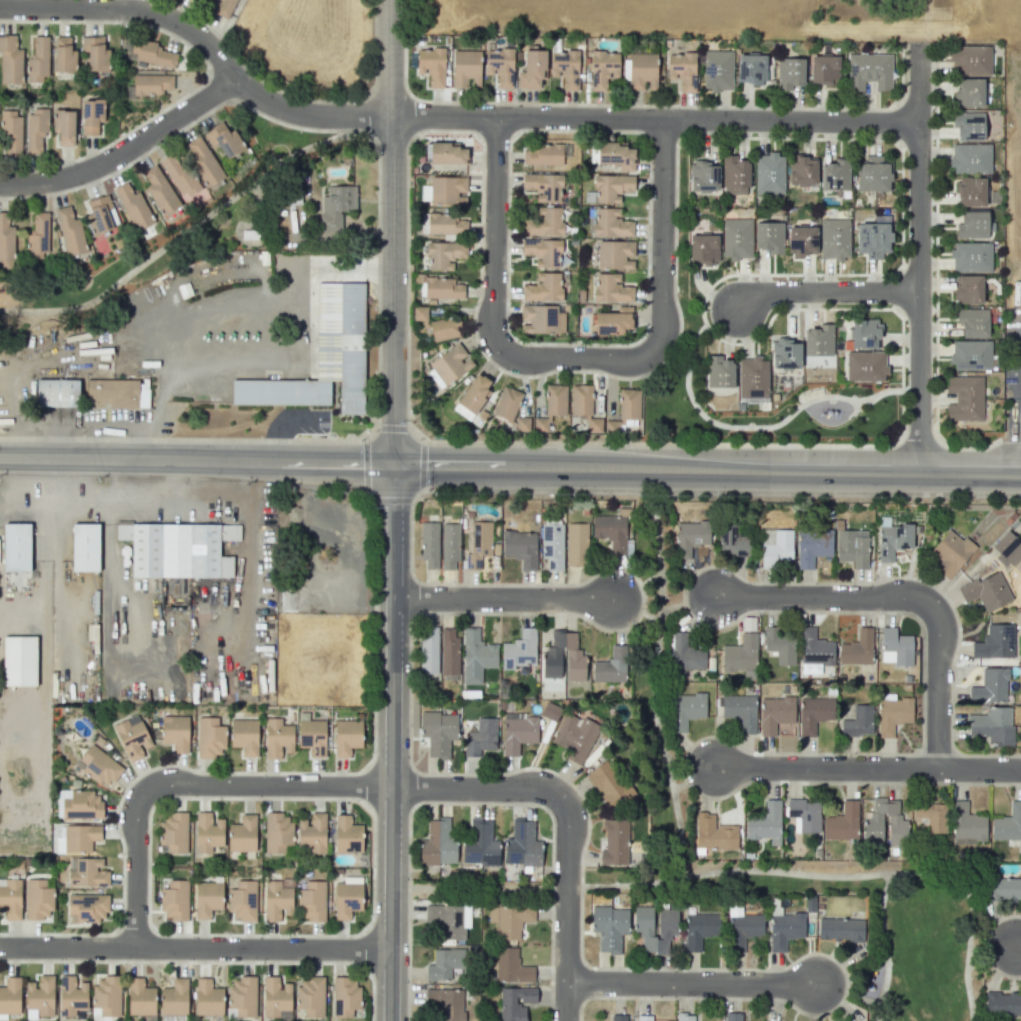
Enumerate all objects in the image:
building: (224, 8)
park: (308, 44)
building: (151, 53)
building: (95, 54)
building: (63, 55)
building: (10, 60)
building: (38, 60)
building: (969, 60)
building: (431, 66)
building: (500, 66)
building: (466, 68)
building: (532, 68)
building: (565, 68)
building: (603, 69)
building: (751, 69)
building: (682, 70)
building: (824, 70)
building: (642, 71)
building: (717, 71)
building: (868, 71)
building: (790, 73)
building: (151, 84)
building: (968, 93)
street lamp: (937, 110)
road: (314, 113)
building: (91, 116)
road: (791, 121)
building: (968, 126)
building: (63, 127)
building: (35, 129)
building: (11, 133)
building: (224, 140)
road: (123, 146)
building: (447, 153)
building: (543, 154)
building: (616, 155)
building: (970, 159)
building: (204, 162)
crop: (1012, 164)
building: (802, 171)
building: (768, 173)
building: (874, 174)
building: (177, 175)
building: (735, 175)
building: (835, 175)
building: (703, 176)
building: (543, 186)
building: (611, 188)
building: (160, 191)
building: (444, 191)
building: (971, 191)
building: (335, 206)
building: (133, 207)
building: (100, 214)
building: (544, 222)
park: (681, 222)
building: (610, 223)
building: (443, 224)
building: (972, 225)
building: (69, 231)
road: (494, 231)
road: (184, 232)
road: (391, 232)
park: (171, 235)
road: (661, 235)
building: (37, 236)
building: (770, 237)
building: (736, 239)
building: (834, 239)
building: (873, 239)
building: (802, 240)
building: (6, 241)
building: (703, 248)
building: (542, 252)
building: (614, 254)
building: (444, 255)
building: (971, 257)
road: (918, 259)
street lamp: (932, 274)
building: (442, 288)
building: (543, 288)
building: (610, 289)
building: (968, 289)
road: (823, 291)
road: (219, 307)
building: (419, 313)
building: (541, 319)
building: (613, 321)
building: (973, 322)
building: (444, 327)
building: (864, 333)
building: (819, 340)
building: (342, 342)
building: (785, 354)
building: (971, 355)
road: (574, 356)
building: (450, 364)
building: (865, 366)
building: (719, 372)
building: (752, 378)
building: (57, 393)
building: (112, 394)
building: (281, 394)
building: (474, 394)
building: (965, 398)
building: (555, 400)
building: (581, 400)
building: (507, 403)
building: (628, 404)
road: (1020, 413)
street lamp: (932, 420)
building: (522, 424)
building: (540, 424)
building: (593, 425)
road: (749, 427)
road: (1017, 440)
road: (197, 459)
traffic signals: (394, 464)
road: (707, 469)
road: (84, 502)
building: (611, 530)
building: (690, 538)
building: (893, 540)
building: (731, 541)
building: (429, 544)
building: (478, 544)
building: (552, 545)
building: (576, 545)
building: (449, 546)
building: (776, 546)
building: (812, 547)
building: (852, 547)
building: (1007, 547)
building: (15, 548)
building: (85, 548)
building: (520, 548)
building: (182, 550)
building: (951, 553)
street lamp: (412, 566)
building: (987, 591)
road: (905, 596)
road: (502, 598)
road: (688, 602)
road: (636, 608)
street lamp: (759, 614)
street lamp: (876, 615)
building: (995, 642)
building: (780, 645)
building: (896, 647)
building: (815, 648)
building: (857, 648)
building: (428, 650)
building: (519, 650)
building: (448, 651)
building: (685, 653)
building: (476, 656)
building: (741, 656)
building: (19, 662)
building: (575, 663)
street lamp: (954, 663)
building: (611, 666)
building: (990, 686)
road: (655, 689)
building: (685, 710)
building: (740, 711)
building: (892, 713)
building: (775, 714)
building: (814, 714)
building: (858, 721)
building: (992, 725)
building: (175, 732)
building: (518, 732)
building: (439, 733)
building: (244, 736)
building: (346, 736)
building: (574, 736)
building: (312, 737)
building: (480, 737)
building: (133, 738)
building: (210, 738)
building: (277, 738)
road: (392, 742)
park: (661, 762)
building: (99, 766)
road: (691, 769)
road: (824, 769)
road: (979, 769)
road: (188, 785)
building: (608, 785)
road: (476, 788)
street lamp: (352, 800)
building: (81, 804)
street lamp: (414, 808)
building: (804, 814)
building: (932, 816)
building: (842, 822)
building: (966, 822)
building: (765, 823)
building: (1007, 824)
building: (873, 830)
building: (173, 832)
building: (207, 832)
building: (277, 832)
building: (312, 833)
building: (714, 833)
building: (242, 834)
building: (346, 835)
building: (80, 838)
building: (614, 843)
building: (437, 844)
building: (480, 844)
building: (522, 845)
road: (750, 870)
building: (87, 873)
park: (481, 887)
building: (1003, 889)
building: (347, 897)
building: (10, 899)
building: (37, 899)
building: (207, 899)
building: (174, 900)
building: (242, 900)
building: (276, 901)
building: (312, 901)
building: (88, 907)
road: (567, 908)
building: (449, 920)
building: (509, 920)
building: (609, 927)
building: (655, 927)
building: (743, 928)
building: (699, 929)
building: (784, 929)
building: (840, 929)
road: (994, 945)
road: (1018, 946)
road: (195, 947)
road: (884, 947)
building: (443, 964)
building: (510, 966)
road: (692, 982)
street lamp: (410, 983)
building: (10, 996)
building: (71, 996)
building: (242, 996)
building: (275, 996)
building: (310, 996)
building: (344, 996)
road: (847, 996)
building: (39, 997)
building: (106, 997)
building: (140, 997)
building: (174, 998)
building: (208, 998)
building: (446, 1003)
building: (515, 1003)
building: (1002, 1003)
building: (618, 1017)
building: (684, 1017)
building: (733, 1017)
building: (644, 1018)

